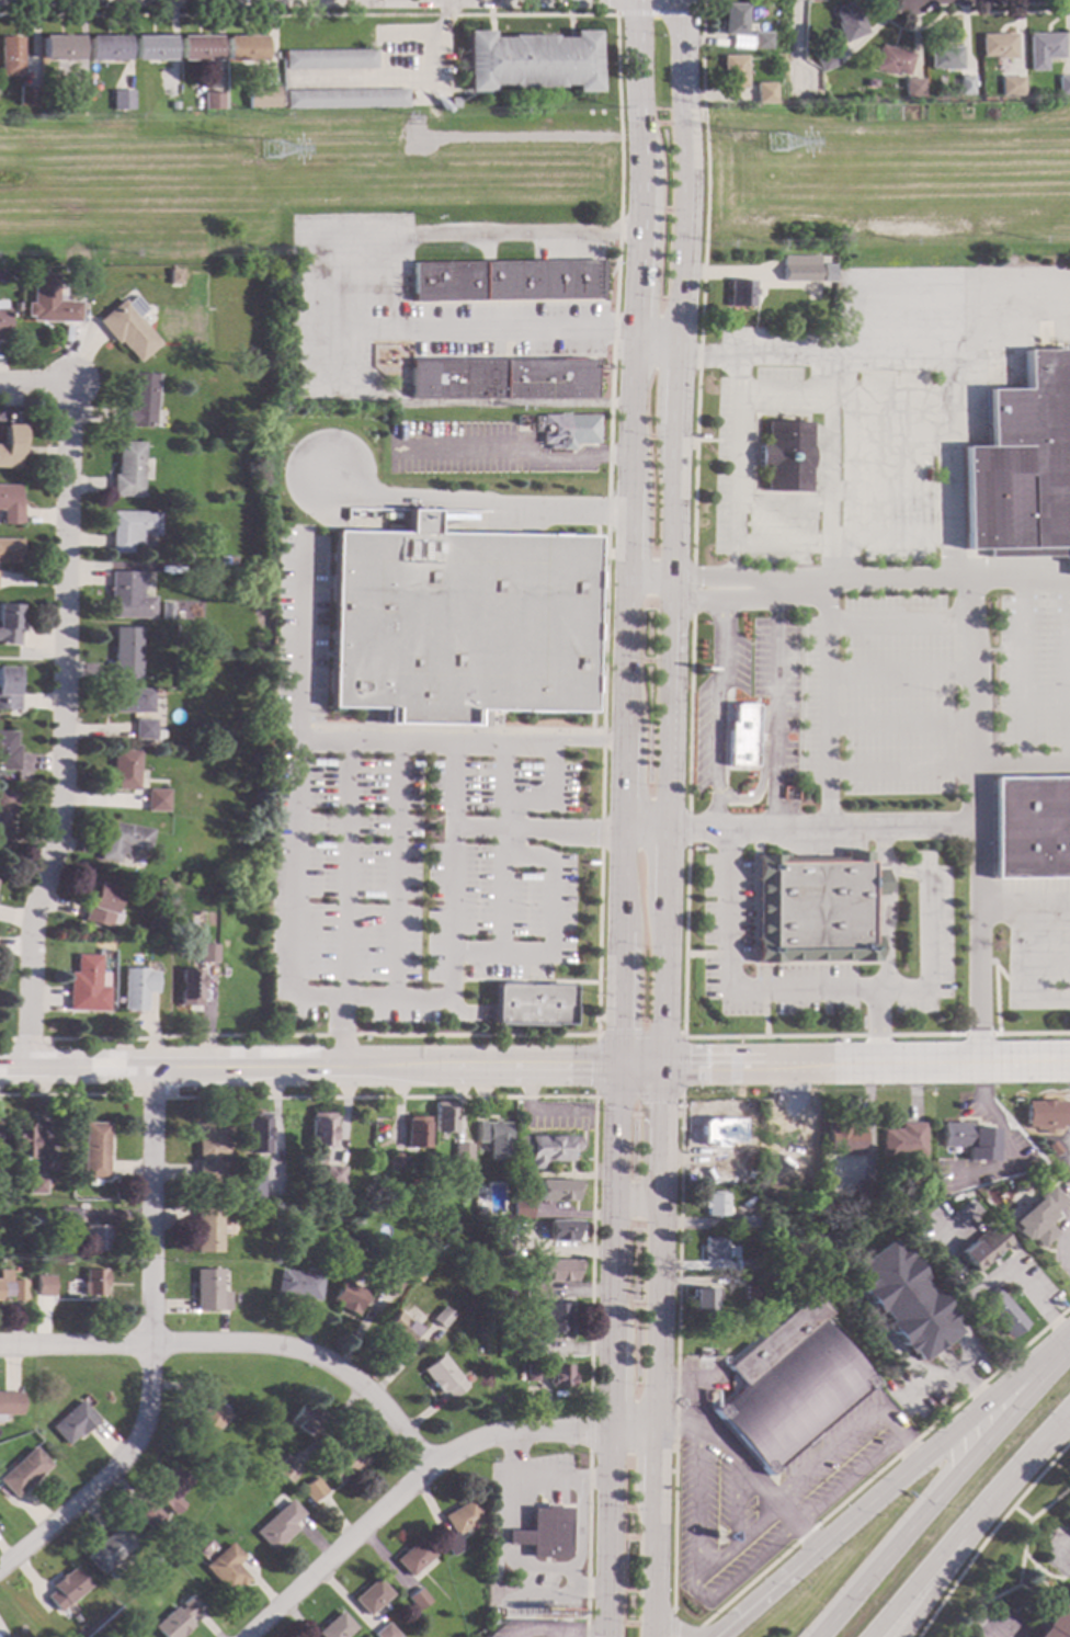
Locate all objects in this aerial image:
road: (616, 5)
road: (658, 12)
road: (963, 12)
building: (733, 18)
road: (442, 19)
building: (850, 22)
building: (760, 39)
road: (797, 42)
building: (998, 45)
building: (58, 47)
building: (150, 47)
building: (195, 47)
building: (241, 47)
building: (104, 48)
building: (1044, 48)
building: (10, 56)
building: (944, 57)
building: (327, 58)
building: (828, 58)
building: (891, 59)
building: (531, 60)
building: (731, 71)
road: (406, 78)
road: (633, 82)
building: (964, 83)
building: (1011, 84)
building: (1062, 84)
building: (911, 87)
building: (763, 92)
building: (25, 95)
building: (259, 95)
building: (342, 98)
building: (118, 99)
building: (209, 100)
building: (452, 101)
building: (169, 104)
power tower: (772, 149)
power tower: (270, 156)
road: (534, 167)
road: (675, 174)
road: (353, 238)
road: (629, 246)
building: (799, 269)
building: (87, 271)
building: (501, 280)
building: (735, 293)
building: (47, 302)
building: (2, 320)
road: (651, 327)
road: (522, 329)
building: (126, 330)
road: (650, 348)
road: (878, 349)
building: (499, 378)
road: (34, 384)
road: (672, 387)
road: (627, 394)
building: (140, 400)
road: (471, 401)
road: (736, 428)
building: (567, 429)
building: (702, 436)
building: (11, 444)
road: (510, 452)
building: (783, 456)
building: (1022, 465)
building: (127, 469)
road: (606, 489)
road: (471, 500)
building: (11, 503)
road: (671, 504)
road: (742, 504)
road: (625, 521)
building: (132, 528)
road: (778, 545)
building: (10, 549)
road: (869, 579)
road: (647, 581)
road: (827, 588)
building: (127, 598)
building: (164, 606)
building: (457, 616)
road: (898, 622)
building: (10, 623)
road: (970, 628)
road: (299, 637)
road: (669, 639)
building: (125, 652)
road: (623, 660)
road: (1022, 671)
road: (901, 672)
road: (1068, 674)
building: (9, 686)
building: (130, 700)
road: (718, 705)
road: (771, 705)
road: (687, 710)
road: (707, 714)
road: (902, 723)
road: (61, 727)
road: (449, 727)
building: (144, 728)
building: (741, 731)
building: (159, 734)
road: (459, 739)
road: (724, 739)
building: (9, 750)
road: (667, 763)
road: (1024, 764)
road: (903, 768)
road: (741, 769)
road: (759, 769)
building: (123, 770)
road: (548, 771)
road: (621, 785)
building: (157, 799)
road: (524, 803)
building: (5, 811)
building: (1031, 826)
road: (534, 828)
road: (823, 828)
road: (644, 830)
building: (123, 840)
road: (881, 844)
road: (665, 867)
road: (344, 868)
road: (399, 869)
road: (501, 873)
road: (901, 874)
road: (619, 879)
building: (163, 880)
road: (887, 888)
road: (295, 891)
building: (164, 900)
building: (101, 906)
road: (550, 906)
building: (816, 907)
road: (447, 923)
building: (177, 931)
building: (129, 934)
road: (983, 944)
building: (208, 952)
road: (887, 953)
road: (719, 954)
road: (929, 955)
road: (754, 962)
road: (1027, 975)
road: (522, 980)
building: (83, 985)
road: (663, 986)
building: (135, 987)
building: (190, 987)
road: (761, 990)
road: (617, 998)
road: (765, 1000)
building: (530, 1003)
traffic signals: (617, 1028)
road: (340, 1033)
road: (2, 1038)
road: (26, 1038)
road: (865, 1066)
road: (308, 1068)
traffic signals: (589, 1068)
road: (639, 1068)
traffic signals: (688, 1068)
road: (65, 1094)
road: (151, 1094)
road: (542, 1096)
road: (680, 1096)
traffic signals: (661, 1102)
road: (538, 1110)
road: (729, 1111)
building: (1044, 1113)
building: (443, 1117)
road: (660, 1117)
building: (320, 1130)
building: (719, 1130)
building: (416, 1132)
building: (255, 1133)
building: (902, 1138)
building: (968, 1138)
building: (493, 1139)
building: (842, 1139)
road: (1006, 1140)
building: (22, 1141)
building: (544, 1148)
building: (95, 1150)
building: (210, 1151)
building: (462, 1151)
road: (775, 1158)
building: (395, 1161)
building: (333, 1173)
road: (560, 1174)
building: (1024, 1181)
building: (36, 1184)
building: (467, 1184)
building: (250, 1186)
building: (559, 1190)
building: (862, 1190)
building: (2, 1193)
road: (614, 1194)
building: (879, 1196)
road: (636, 1202)
building: (987, 1202)
building: (715, 1203)
road: (152, 1206)
building: (522, 1207)
building: (482, 1210)
building: (1038, 1215)
building: (67, 1216)
building: (748, 1221)
building: (207, 1230)
building: (566, 1230)
building: (93, 1237)
building: (981, 1246)
building: (502, 1247)
road: (1069, 1247)
building: (715, 1248)
building: (744, 1264)
building: (15, 1269)
building: (420, 1274)
building: (553, 1274)
building: (390, 1278)
building: (748, 1280)
building: (93, 1282)
road: (988, 1283)
building: (298, 1284)
building: (43, 1285)
building: (11, 1286)
building: (209, 1291)
building: (750, 1292)
building: (348, 1297)
building: (901, 1298)
road: (653, 1299)
building: (704, 1300)
building: (1001, 1312)
building: (442, 1316)
building: (557, 1318)
building: (400, 1328)
road: (240, 1342)
building: (531, 1349)
road: (678, 1354)
road: (967, 1356)
building: (532, 1373)
road: (1028, 1374)
building: (443, 1376)
building: (560, 1376)
road: (611, 1376)
road: (936, 1382)
road: (1035, 1382)
building: (790, 1385)
road: (972, 1390)
building: (9, 1403)
road: (1068, 1414)
building: (208, 1420)
building: (305, 1420)
building: (73, 1422)
road: (629, 1430)
road: (590, 1431)
road: (852, 1432)
road: (515, 1455)
road: (650, 1460)
building: (345, 1463)
road: (885, 1465)
road: (744, 1468)
building: (287, 1469)
building: (23, 1470)
road: (106, 1474)
building: (314, 1488)
road: (407, 1488)
building: (171, 1489)
road: (542, 1492)
road: (547, 1504)
road: (1021, 1513)
building: (151, 1516)
road: (852, 1522)
building: (1069, 1522)
building: (278, 1525)
building: (458, 1525)
road: (970, 1526)
road: (911, 1530)
building: (544, 1532)
road: (606, 1533)
road: (989, 1534)
road: (787, 1537)
road: (496, 1538)
road: (588, 1544)
road: (1062, 1546)
building: (171, 1548)
building: (109, 1550)
building: (414, 1557)
road: (703, 1558)
road: (650, 1564)
road: (952, 1565)
road: (1020, 1565)
road: (546, 1567)
building: (226, 1568)
road: (545, 1577)
road: (572, 1577)
building: (68, 1588)
building: (371, 1595)
road: (1034, 1598)
building: (418, 1599)
building: (178, 1618)
building: (1057, 1621)
road: (671, 1625)
building: (335, 1626)
road: (664, 1628)
building: (386, 1632)
road: (694, 1632)
road: (991, 1634)
building: (11, 1635)
road: (548, 1635)
road: (588, 1636)

